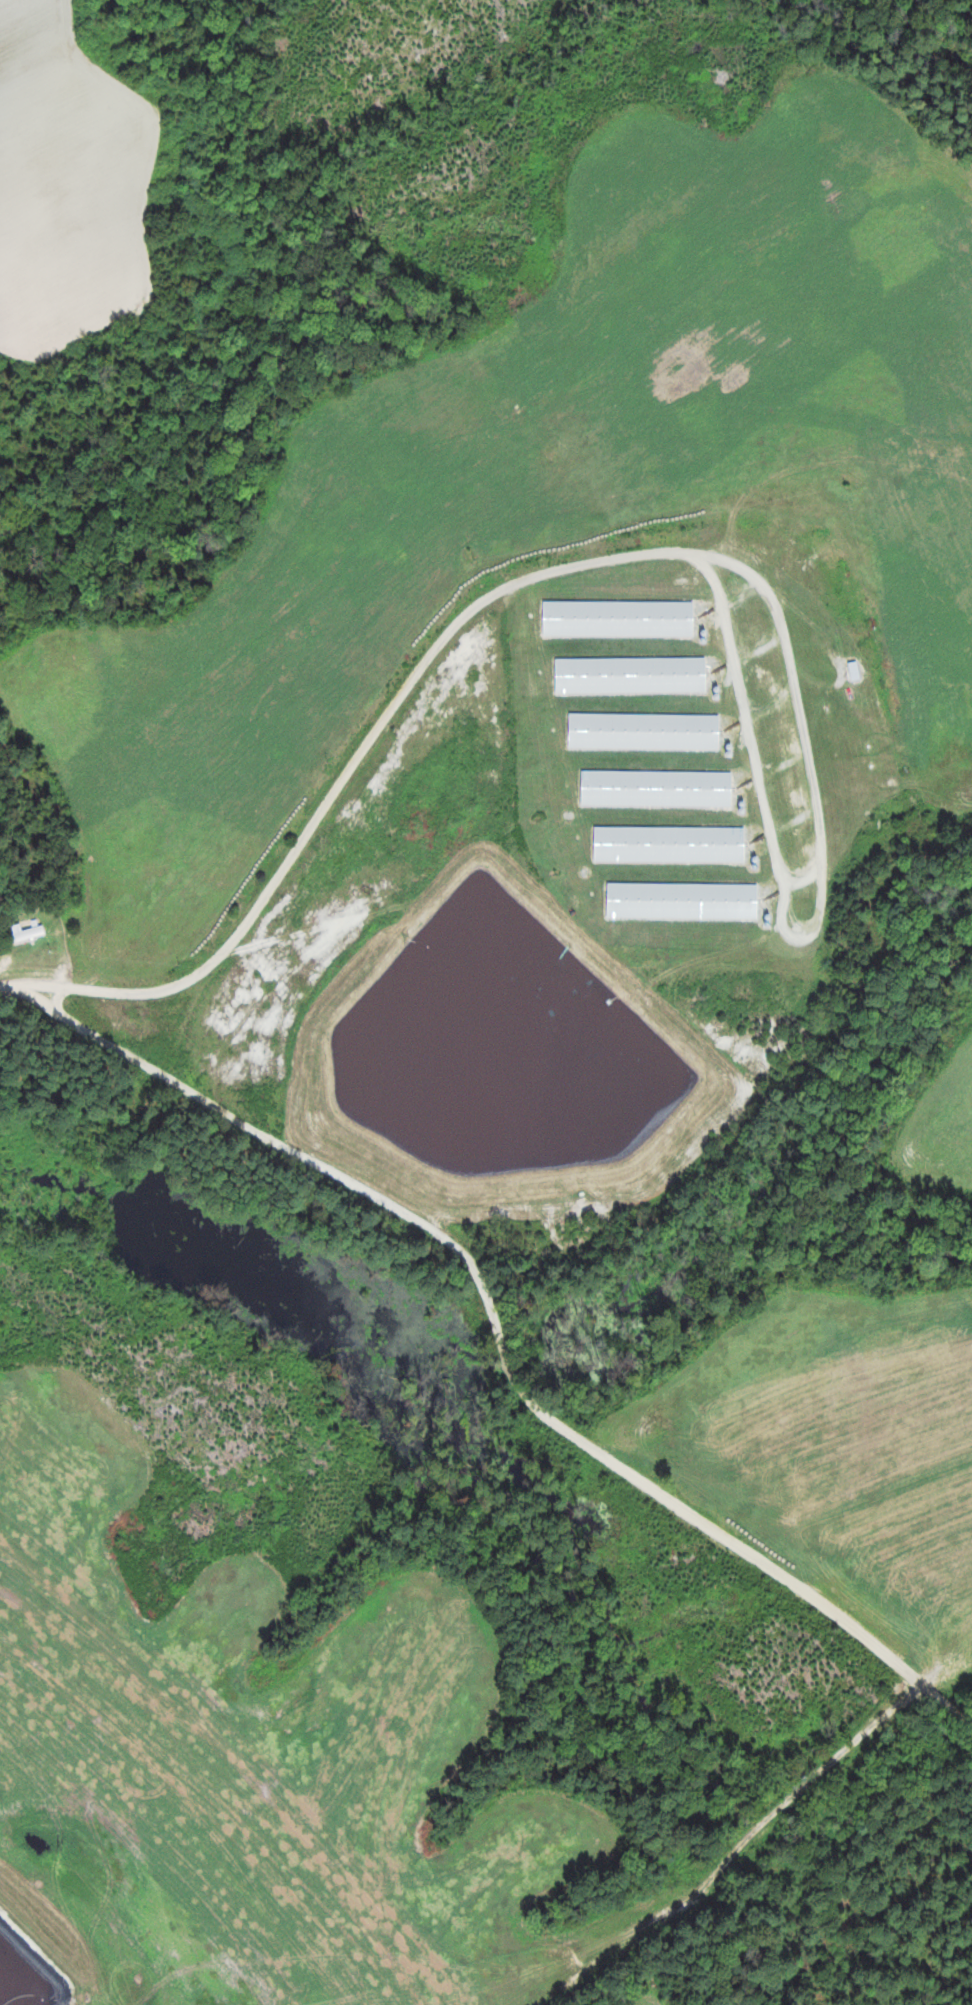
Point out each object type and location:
building: (850, 669)
building: (21, 933)
road: (499, 1329)

